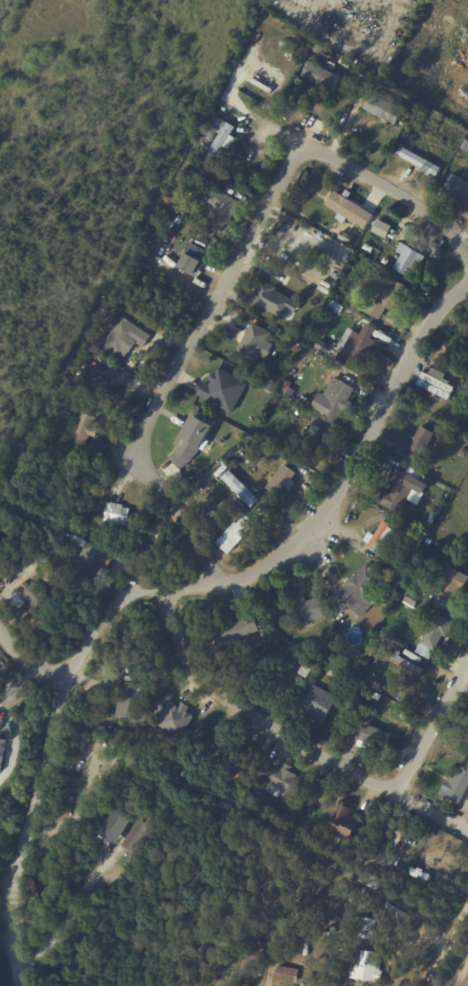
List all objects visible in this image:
building: (322, 77)
building: (385, 109)
park: (72, 117)
building: (218, 129)
building: (222, 143)
building: (424, 167)
road: (351, 172)
building: (456, 189)
building: (344, 206)
building: (222, 210)
building: (165, 216)
building: (385, 230)
building: (355, 242)
building: (368, 250)
building: (194, 261)
building: (410, 261)
building: (392, 298)
building: (274, 300)
building: (126, 339)
building: (253, 340)
building: (324, 347)
building: (357, 348)
building: (306, 353)
road: (179, 370)
building: (438, 381)
building: (222, 389)
building: (433, 389)
building: (339, 398)
building: (84, 430)
building: (314, 437)
building: (193, 438)
building: (422, 442)
building: (224, 467)
building: (283, 479)
building: (244, 489)
building: (411, 489)
building: (118, 515)
building: (433, 518)
building: (235, 532)
building: (61, 535)
building: (377, 536)
building: (155, 538)
building: (430, 541)
building: (24, 547)
building: (443, 548)
building: (61, 552)
building: (95, 562)
building: (403, 576)
building: (448, 588)
building: (361, 589)
road: (165, 595)
building: (410, 597)
building: (47, 608)
building: (308, 609)
building: (236, 629)
building: (436, 635)
road: (29, 654)
building: (402, 661)
building: (135, 700)
building: (161, 703)
building: (319, 703)
building: (176, 718)
road: (435, 731)
road: (299, 736)
building: (1, 752)
building: (109, 764)
building: (285, 779)
building: (460, 787)
building: (347, 823)
building: (132, 833)
building: (143, 833)
building: (355, 902)
building: (330, 931)
road: (435, 935)
building: (291, 936)
building: (368, 953)
building: (258, 954)
building: (288, 974)
building: (339, 982)

